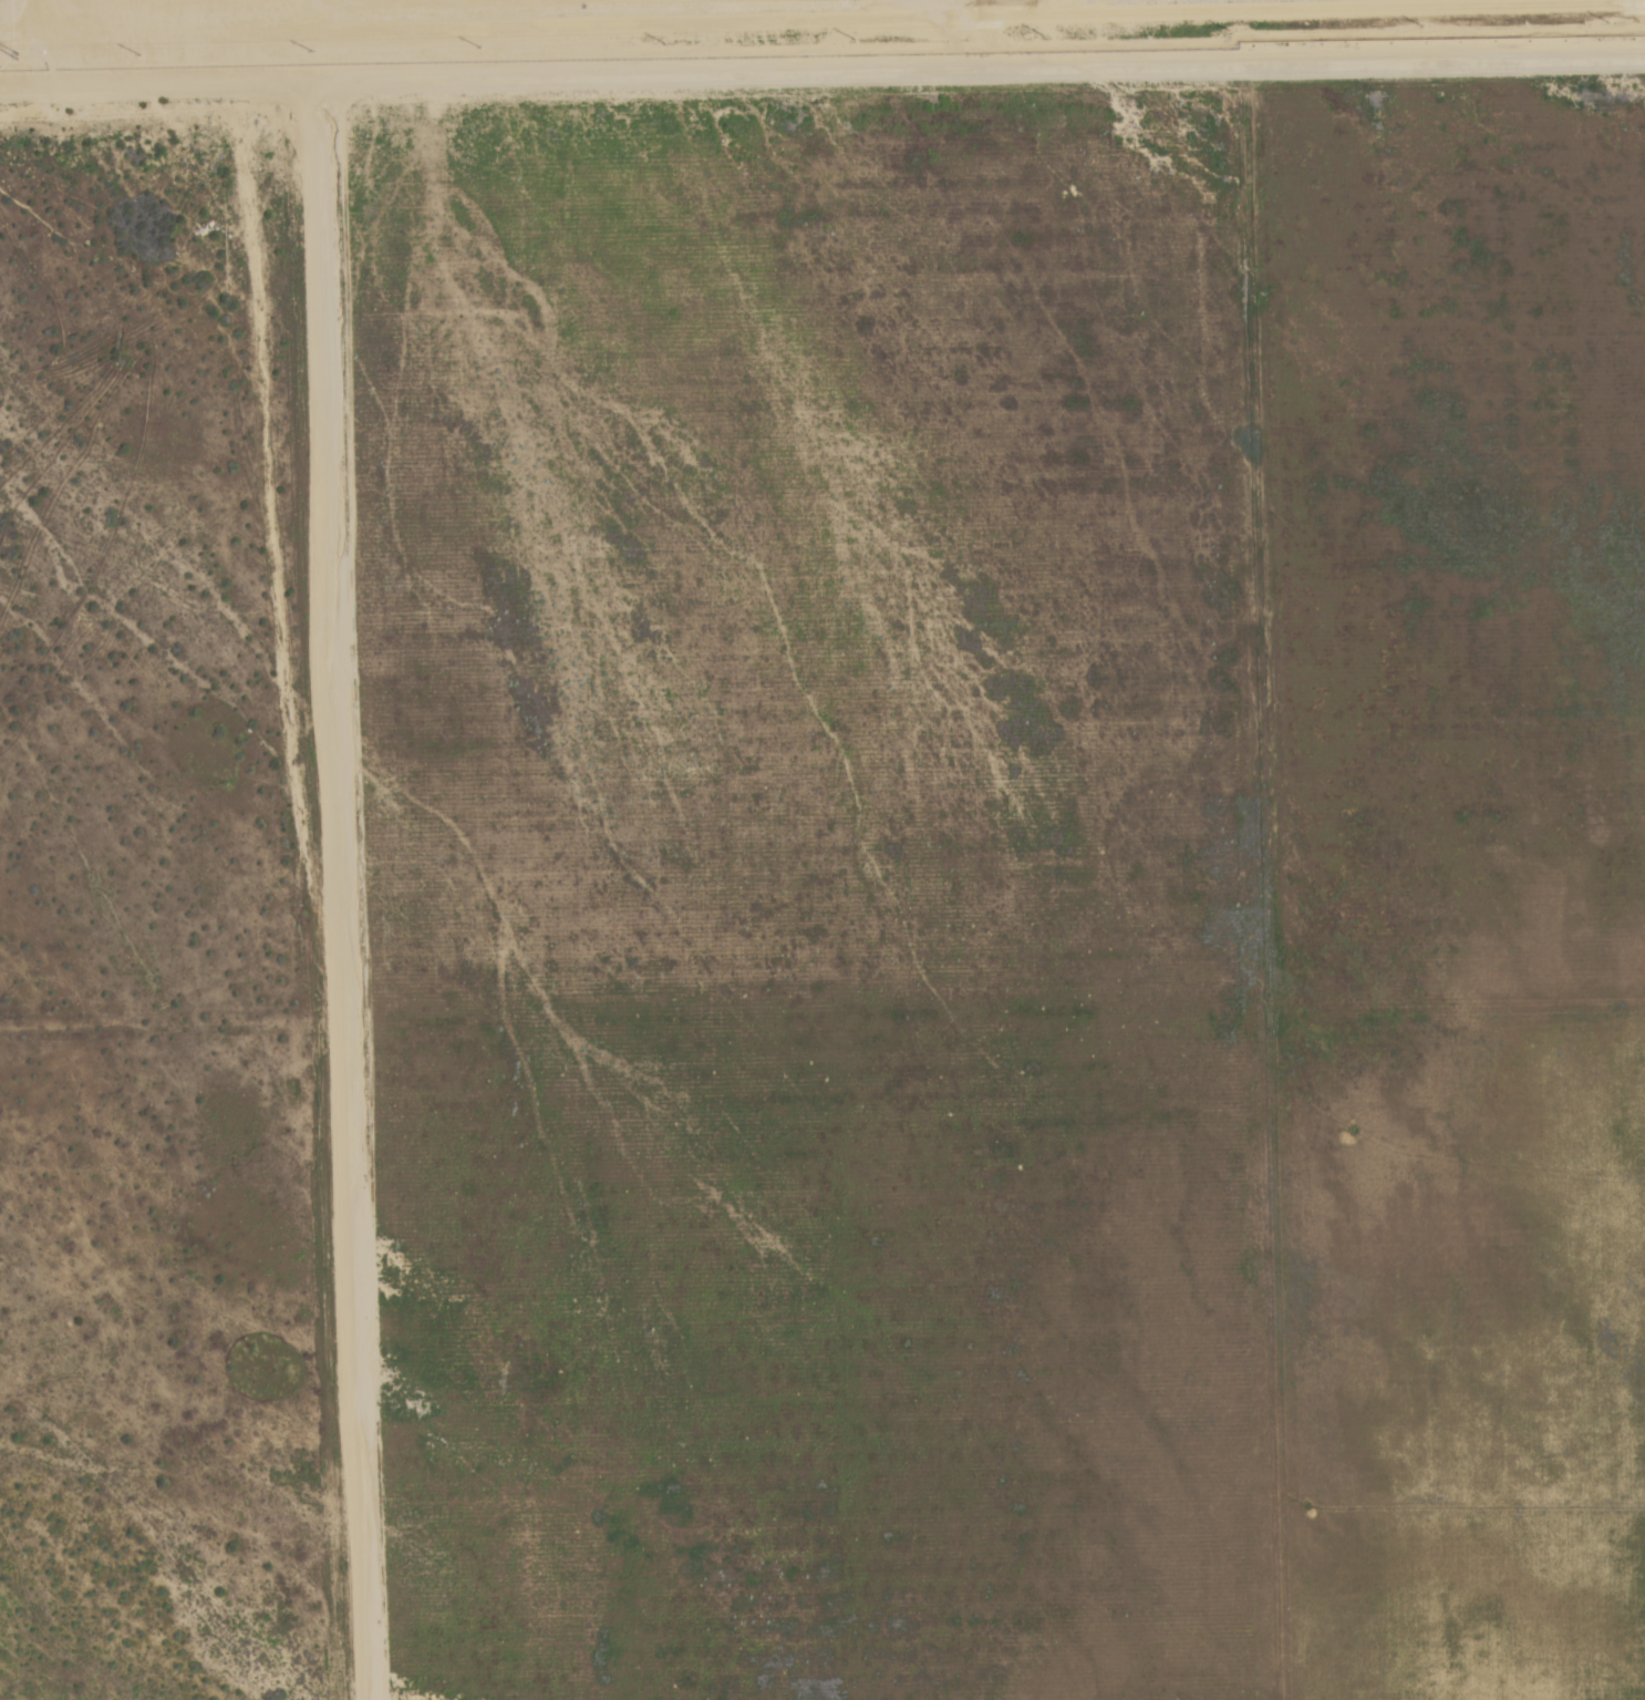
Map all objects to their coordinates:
solar farm: (724, 29)
road: (940, 80)
road: (120, 112)
road: (163, 1043)

